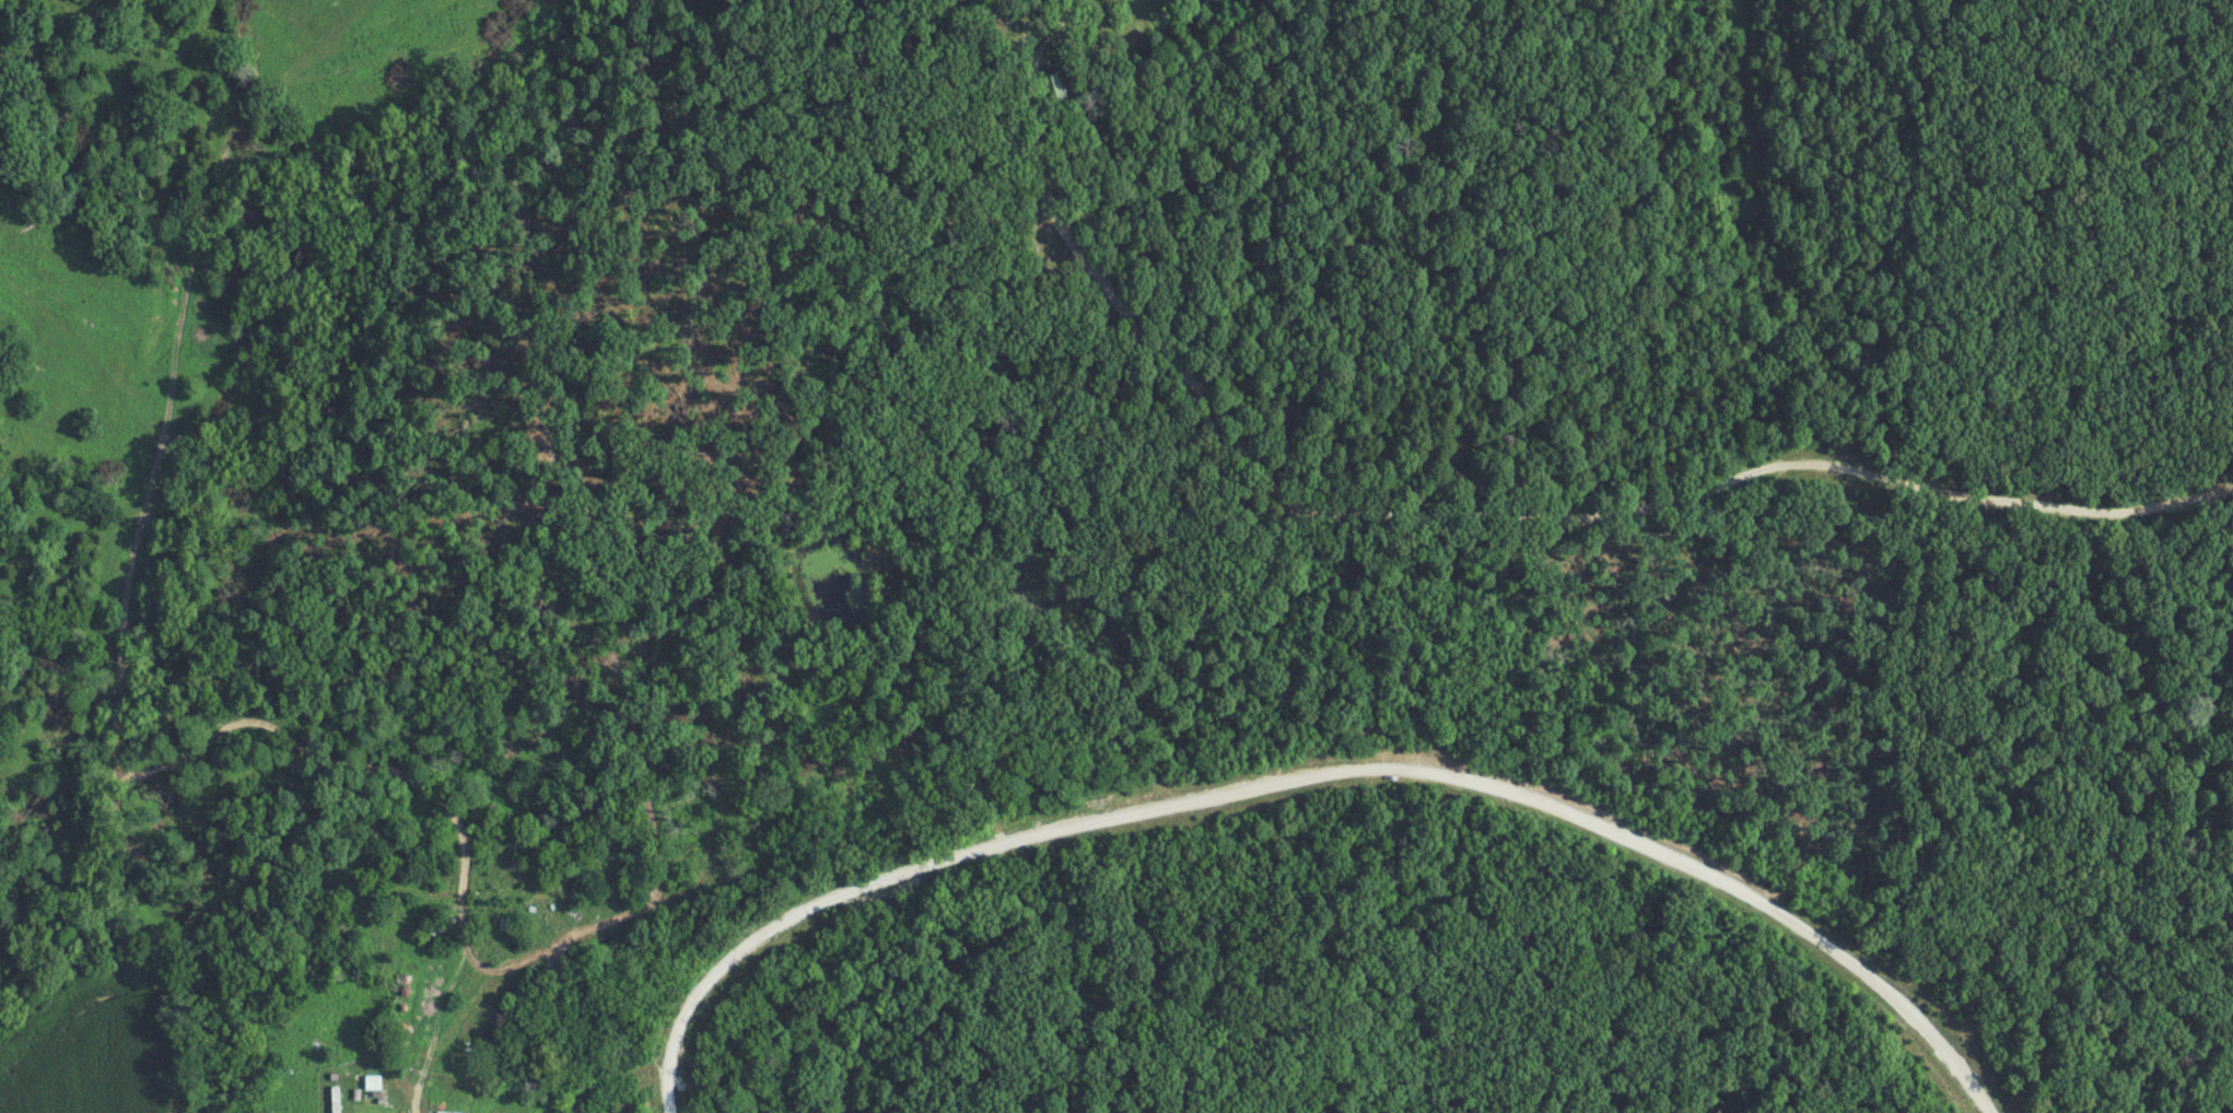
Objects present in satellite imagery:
road: (1025, 39)
road: (1051, 40)
building: (1053, 87)
road: (1510, 515)
road: (1314, 776)
building: (508, 925)
building: (442, 930)
building: (373, 1083)
building: (437, 1112)

